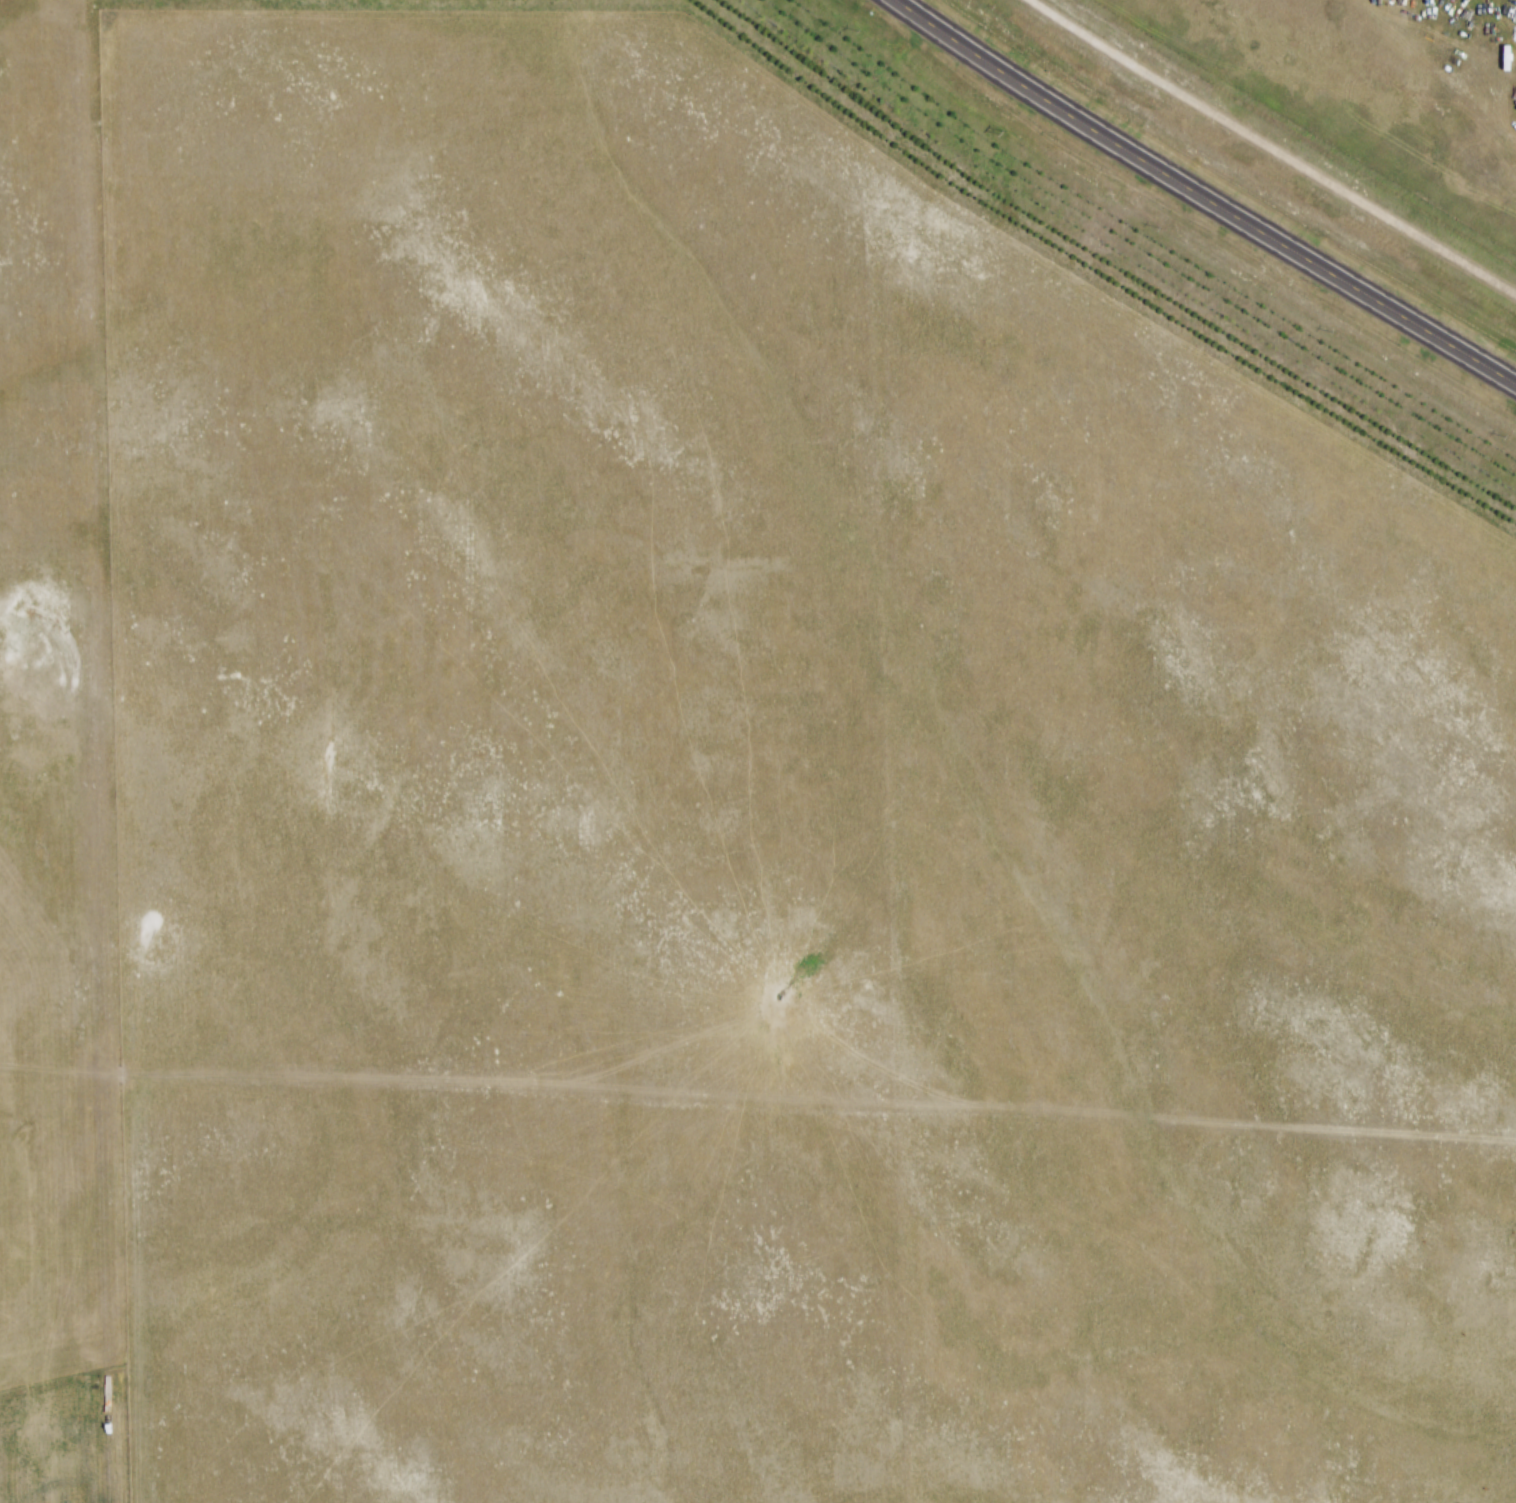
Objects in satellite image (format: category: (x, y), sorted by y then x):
road: (1282, 145)
road: (1205, 194)
building: (465, 975)

